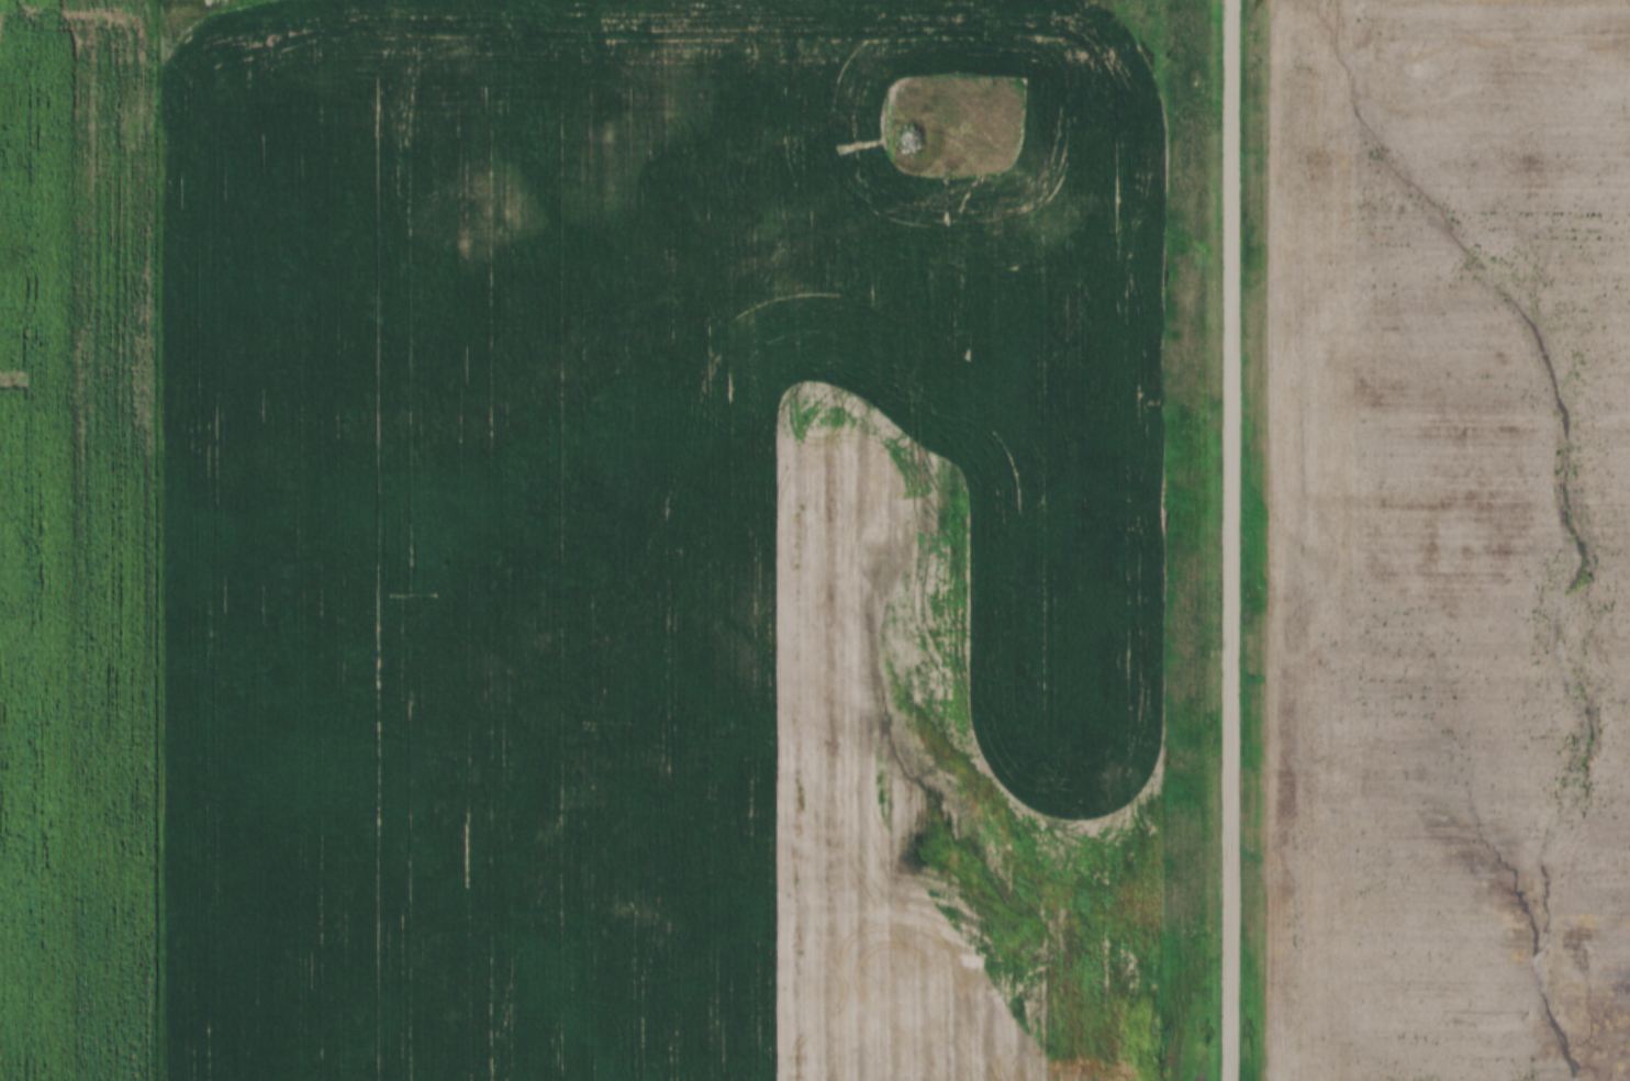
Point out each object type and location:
road: (1238, 540)

